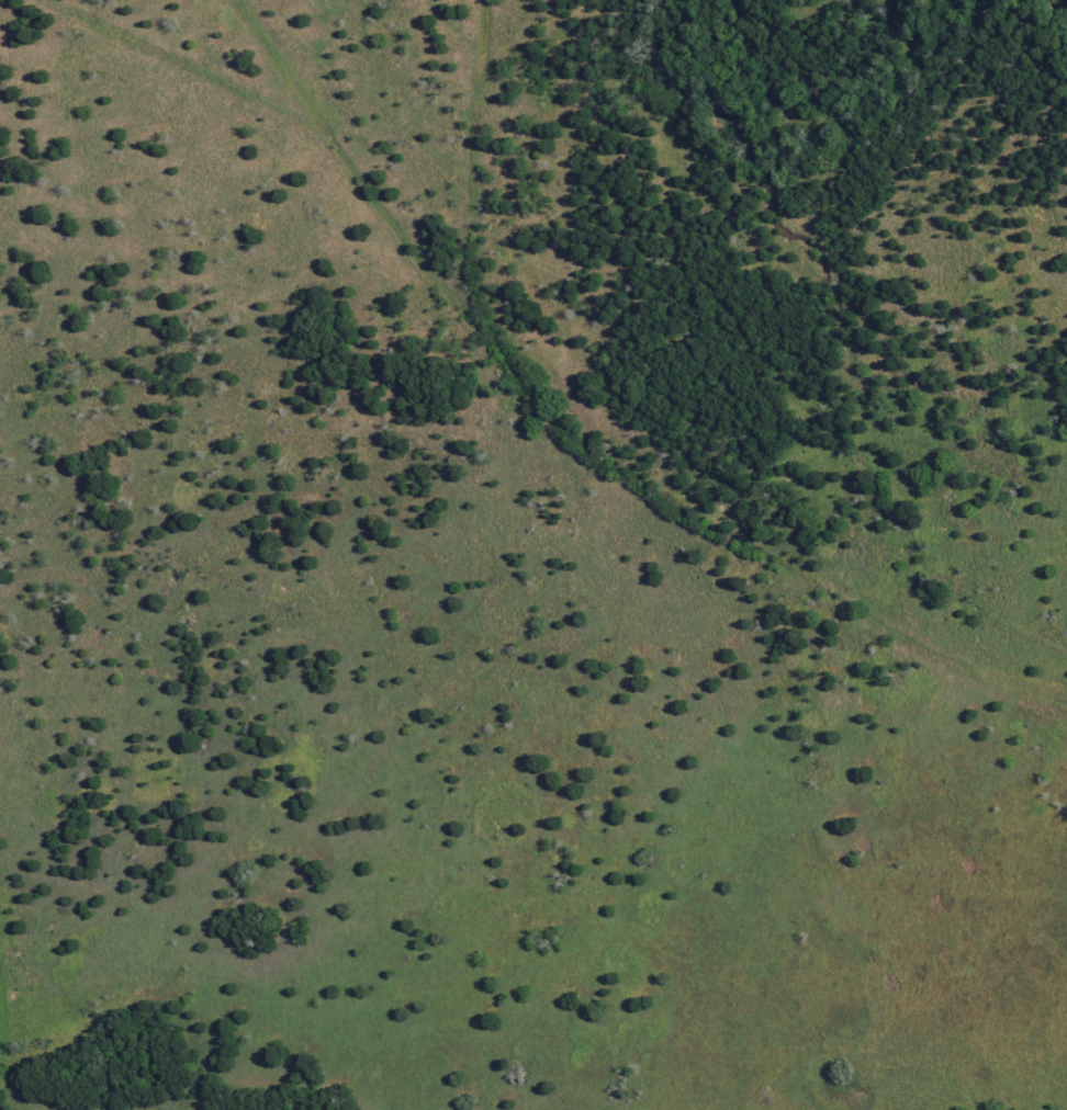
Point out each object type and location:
road: (763, 951)

